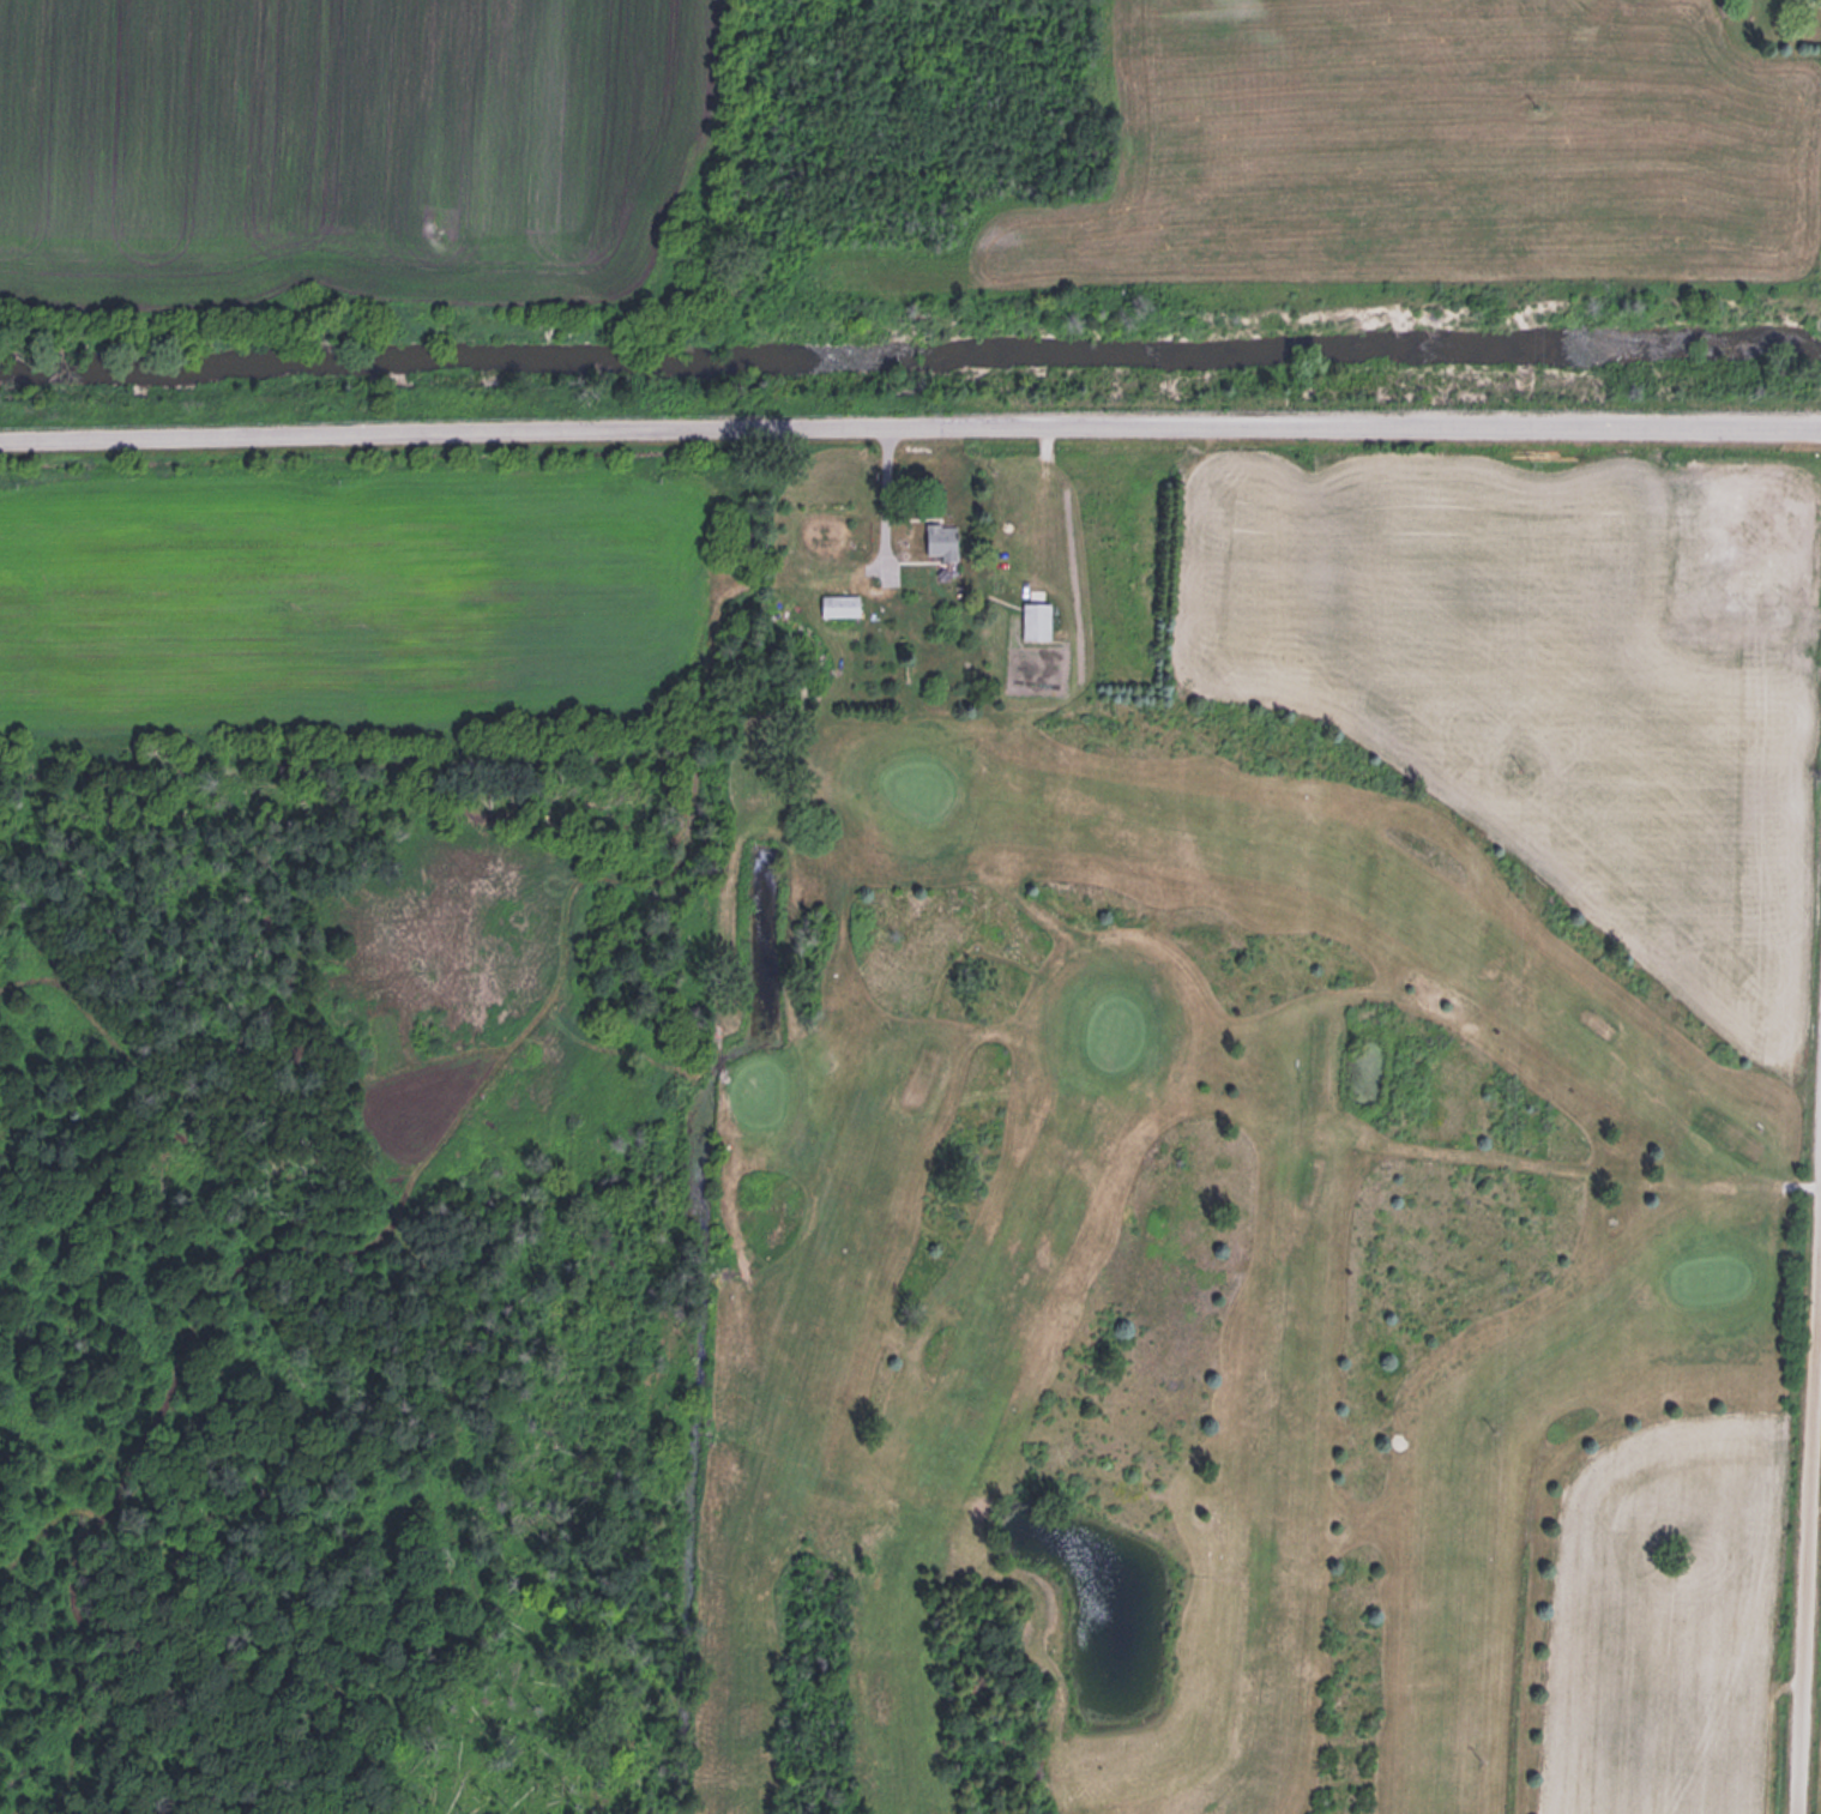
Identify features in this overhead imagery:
river: (910, 355)
road: (910, 429)
building: (942, 540)
building: (839, 604)
park: (1210, 1298)
road: (1808, 1499)

